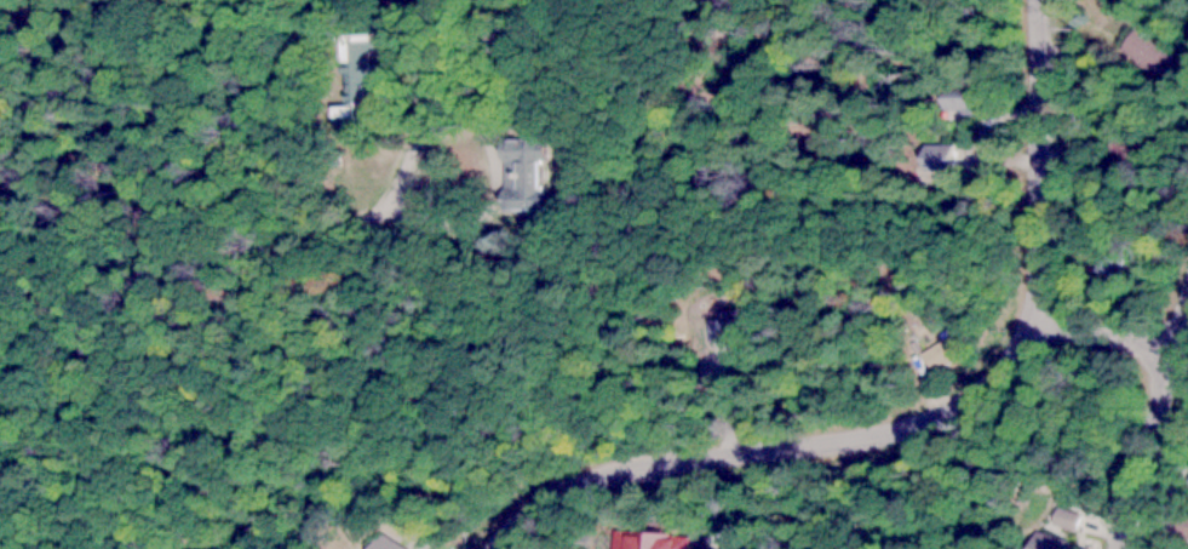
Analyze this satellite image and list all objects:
building: (1143, 48)
building: (354, 74)
building: (952, 97)
building: (934, 156)
building: (520, 173)
road: (241, 257)
building: (1108, 262)
building: (725, 330)
road: (1100, 333)
building: (941, 351)
road: (1149, 414)
road: (930, 421)
building: (1187, 476)
building: (1062, 517)
building: (1181, 527)
building: (648, 541)
building: (1043, 542)

